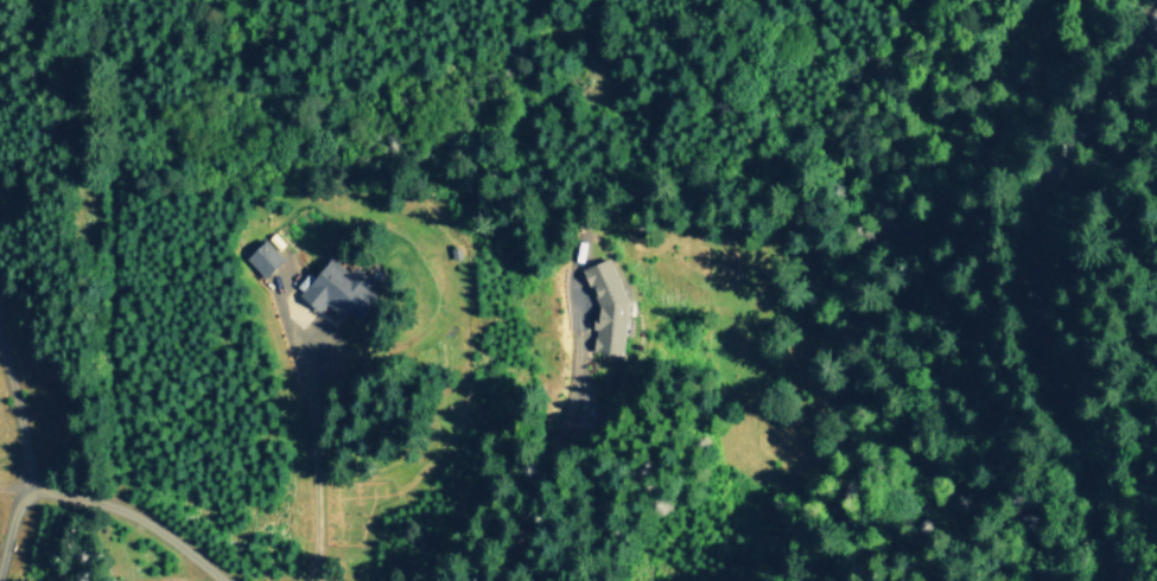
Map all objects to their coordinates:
road: (1149, 7)
building: (263, 257)
road: (1025, 287)
building: (338, 289)
building: (606, 306)
road: (15, 421)
road: (312, 458)
road: (132, 517)
road: (9, 531)

